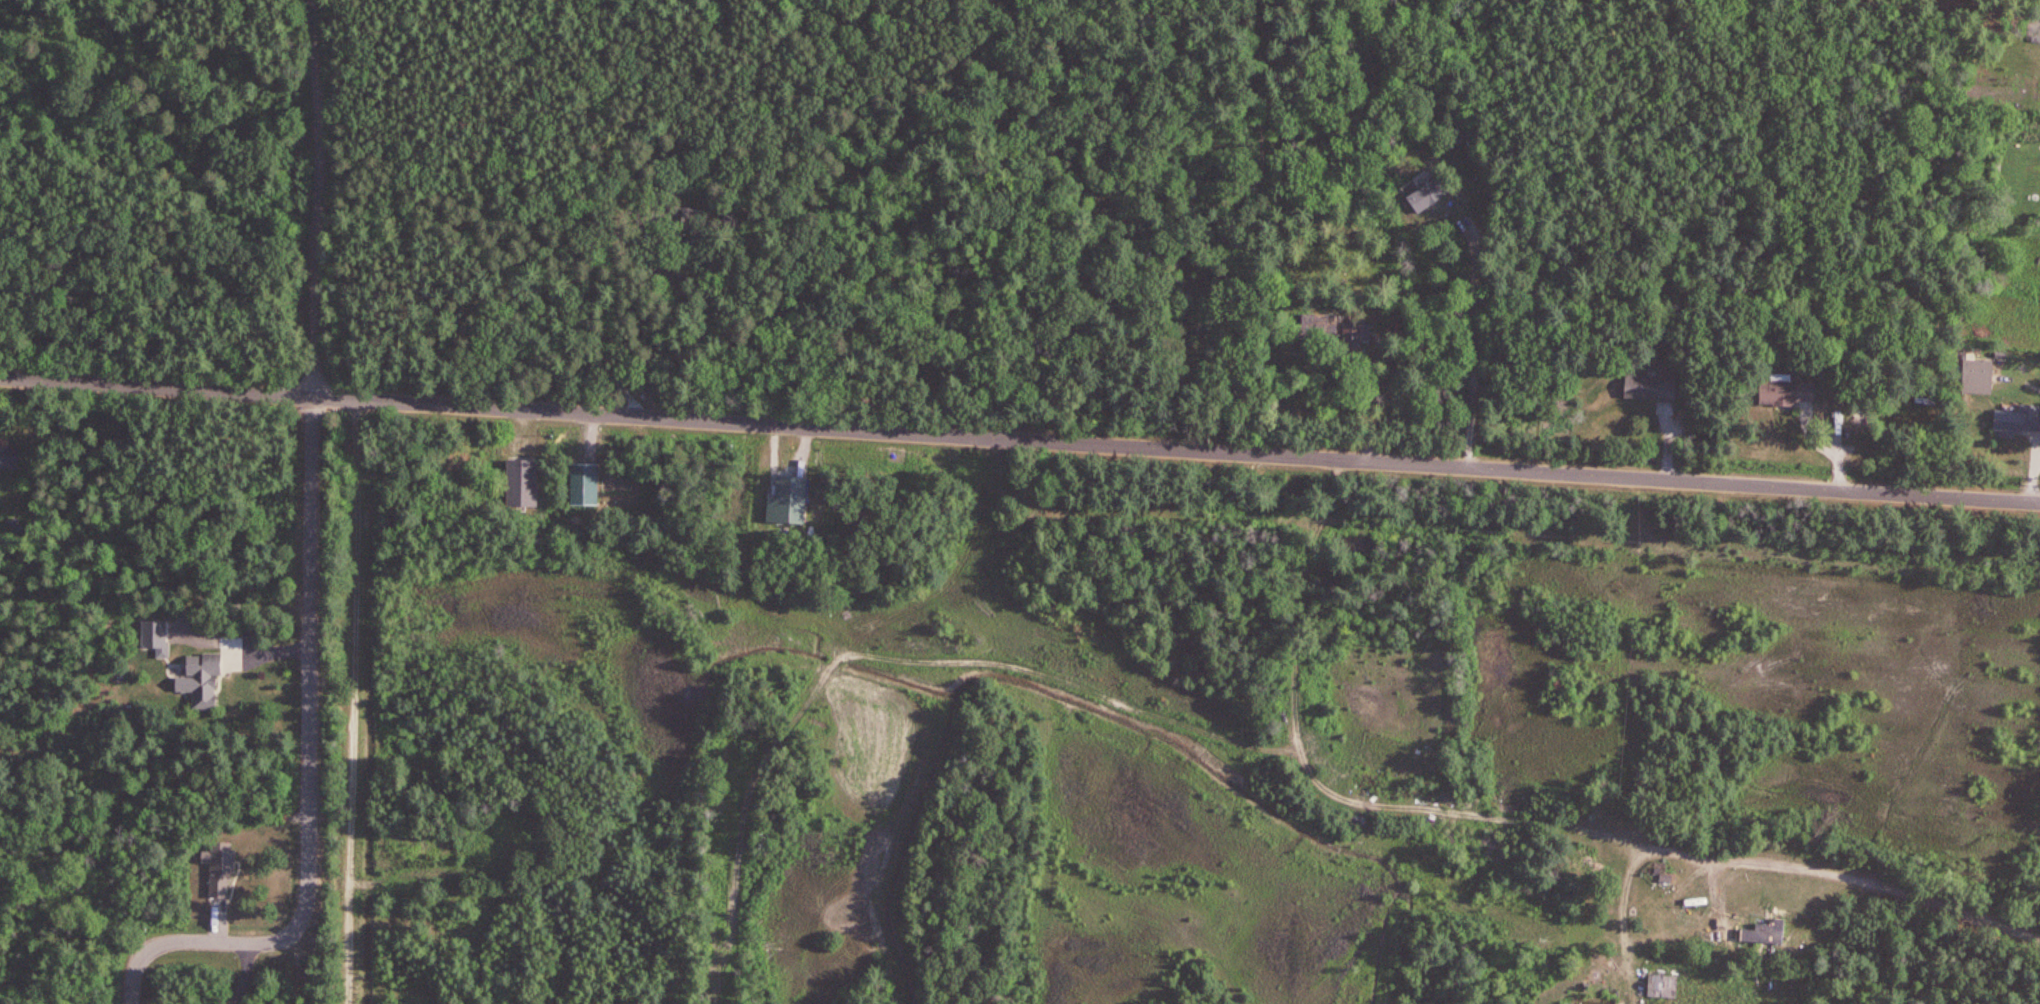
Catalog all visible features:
building: (1432, 193)
road: (319, 200)
building: (697, 226)
road: (905, 295)
building: (1354, 332)
road: (1475, 345)
building: (1375, 346)
building: (1980, 376)
building: (1654, 389)
building: (1789, 390)
building: (2018, 420)
road: (1019, 442)
building: (10, 458)
building: (206, 681)
road: (351, 704)
road: (308, 772)
road: (1509, 820)
building: (223, 870)
road: (1621, 922)
building: (1657, 985)

